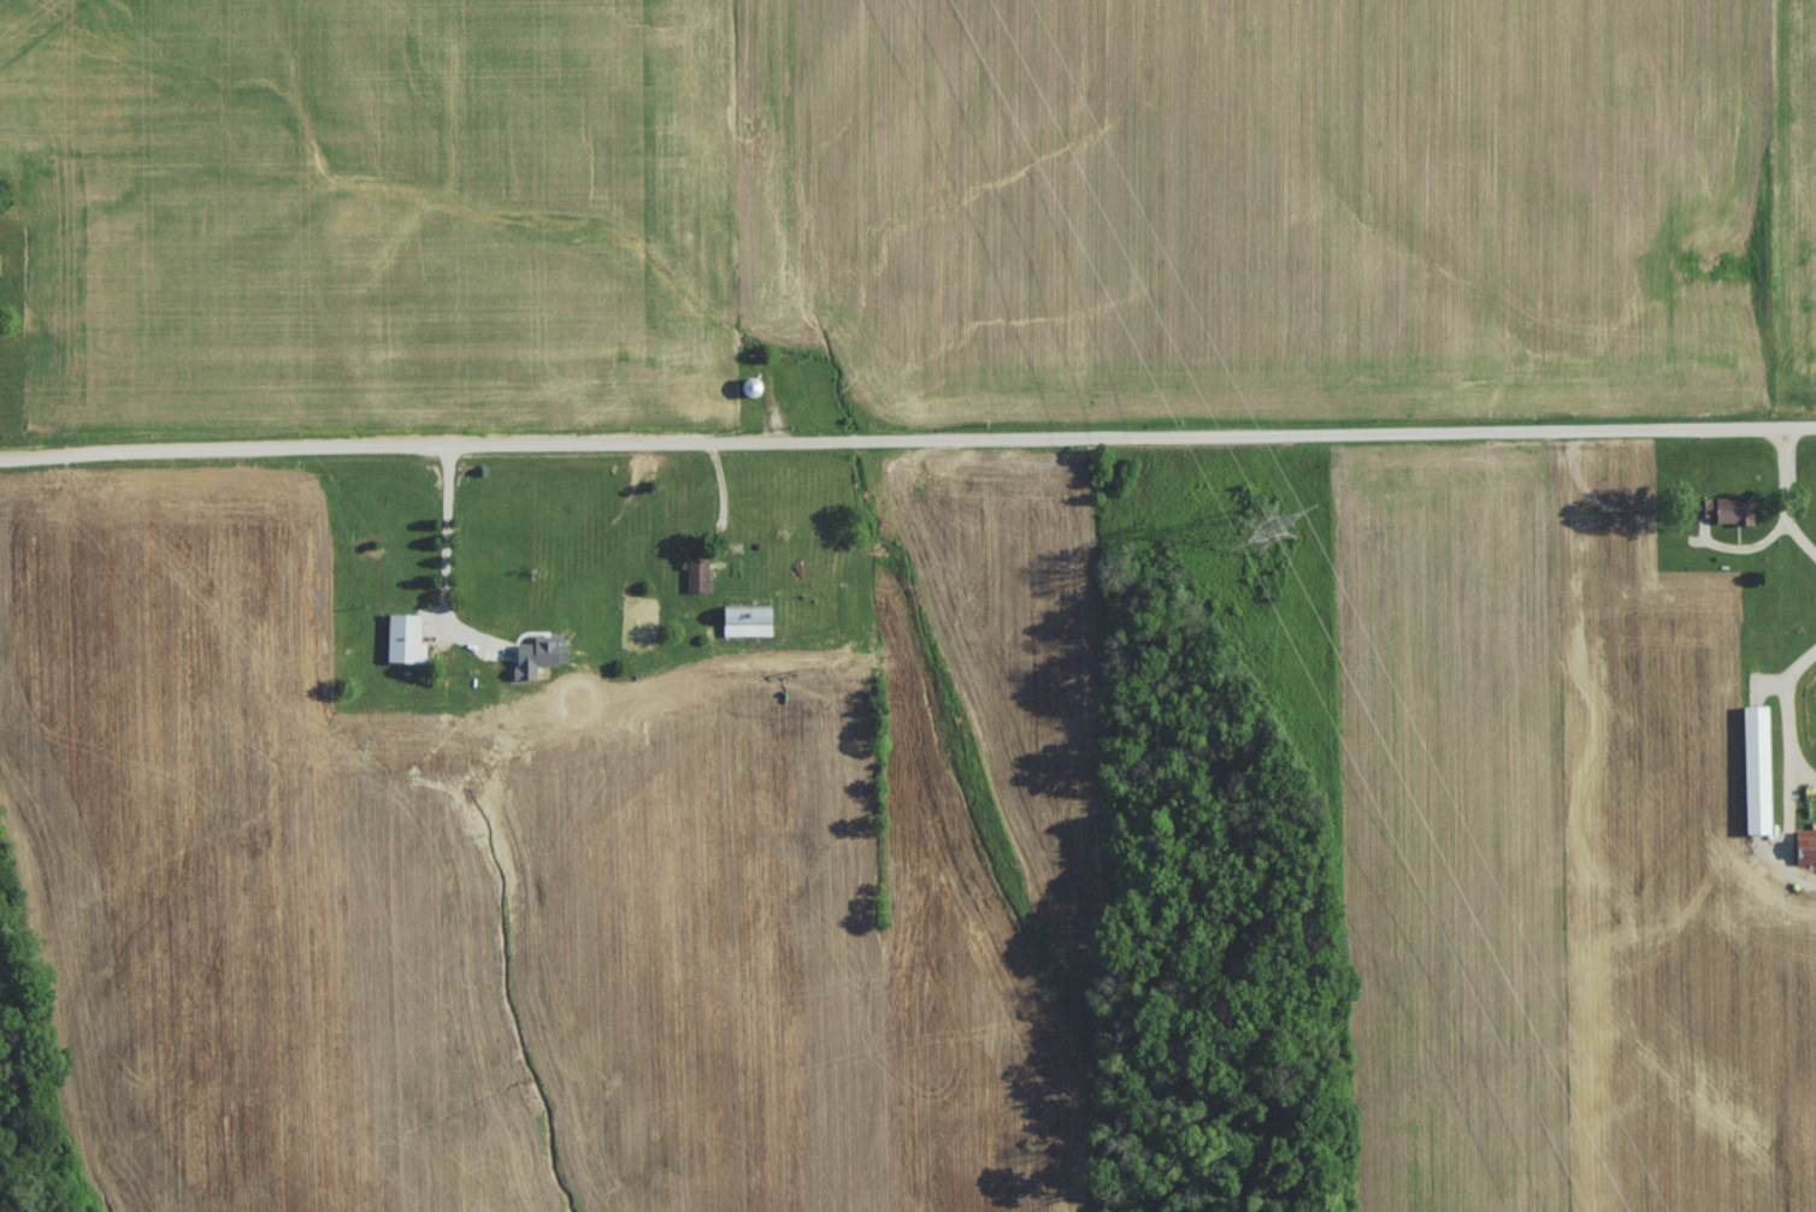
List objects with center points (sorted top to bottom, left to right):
building: (750, 392)
road: (907, 439)
road: (1776, 498)
road: (1148, 515)
building: (1735, 516)
power tower: (1272, 536)
road: (444, 563)
building: (697, 581)
building: (748, 627)
building: (405, 644)
building: (1804, 703)
building: (1757, 776)
building: (1804, 852)

